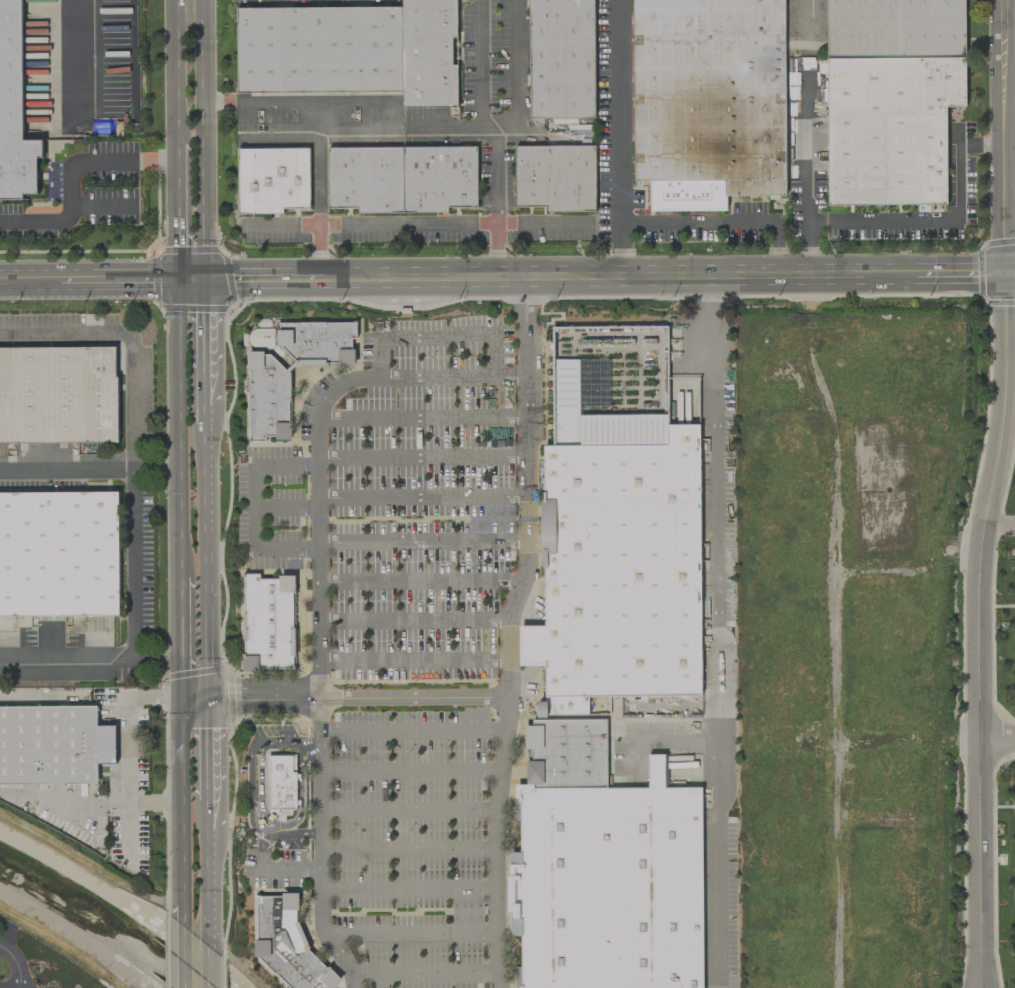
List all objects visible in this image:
road: (1009, 8)
road: (804, 17)
building: (351, 51)
building: (561, 59)
road: (84, 65)
road: (174, 73)
road: (517, 77)
building: (891, 98)
building: (708, 101)
building: (14, 110)
road: (621, 110)
road: (401, 128)
road: (319, 132)
road: (495, 134)
road: (1004, 135)
road: (201, 139)
road: (981, 142)
road: (807, 154)
road: (73, 177)
building: (555, 178)
building: (402, 179)
building: (272, 180)
road: (176, 212)
road: (698, 221)
road: (903, 223)
road: (416, 224)
road: (1011, 270)
traffic signals: (1007, 271)
road: (503, 276)
traffic signals: (176, 279)
traffic signals: (202, 279)
road: (435, 336)
road: (202, 341)
road: (491, 354)
road: (379, 356)
building: (269, 383)
building: (58, 395)
road: (203, 413)
road: (422, 417)
road: (176, 429)
road: (133, 434)
road: (422, 458)
road: (286, 465)
road: (88, 469)
road: (422, 496)
road: (255, 507)
road: (286, 508)
road: (999, 525)
road: (422, 540)
road: (286, 549)
building: (59, 554)
road: (205, 563)
road: (420, 582)
road: (318, 592)
road: (414, 622)
building: (268, 623)
road: (979, 628)
road: (508, 630)
road: (713, 630)
road: (179, 640)
road: (413, 662)
road: (41, 663)
road: (103, 663)
road: (153, 664)
building: (621, 680)
road: (35, 696)
road: (86, 696)
road: (141, 698)
road: (356, 698)
road: (193, 701)
road: (412, 732)
road: (999, 740)
building: (53, 745)
road: (206, 751)
road: (410, 771)
building: (282, 783)
road: (250, 788)
road: (58, 798)
road: (149, 803)
road: (409, 809)
road: (207, 816)
road: (181, 817)
road: (407, 851)
road: (272, 869)
road: (207, 881)
road: (407, 888)
road: (408, 933)
building: (288, 944)
road: (197, 958)
road: (17, 963)
road: (423, 975)

